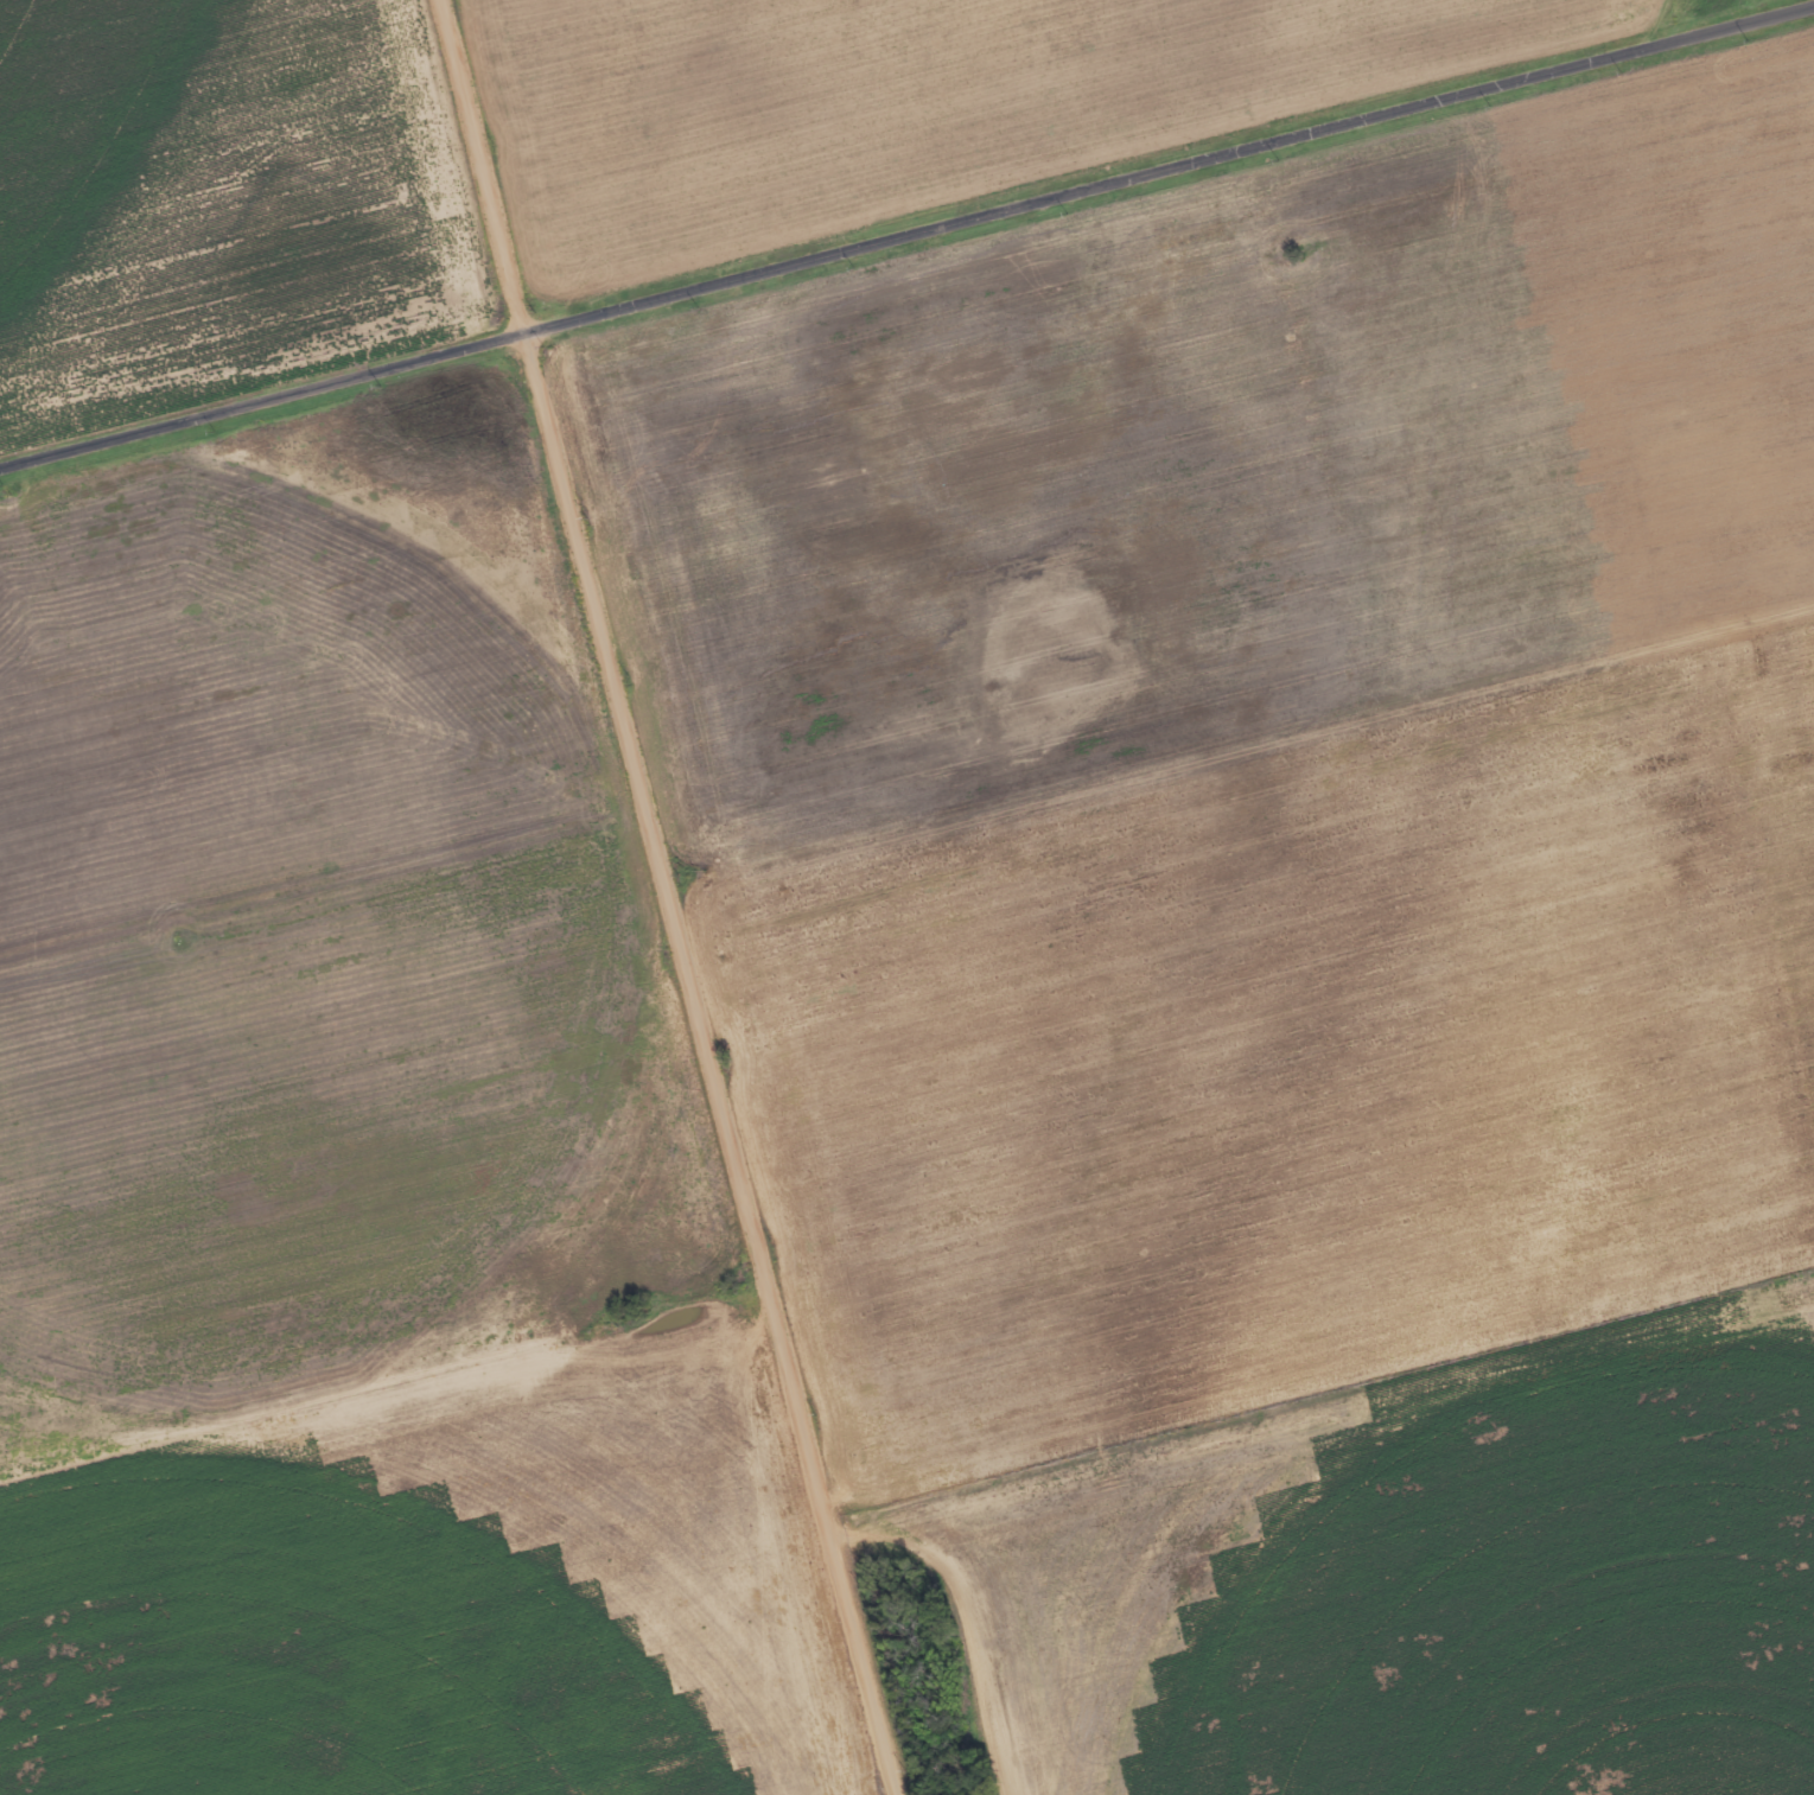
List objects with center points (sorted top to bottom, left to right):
road: (906, 237)
road: (666, 897)

